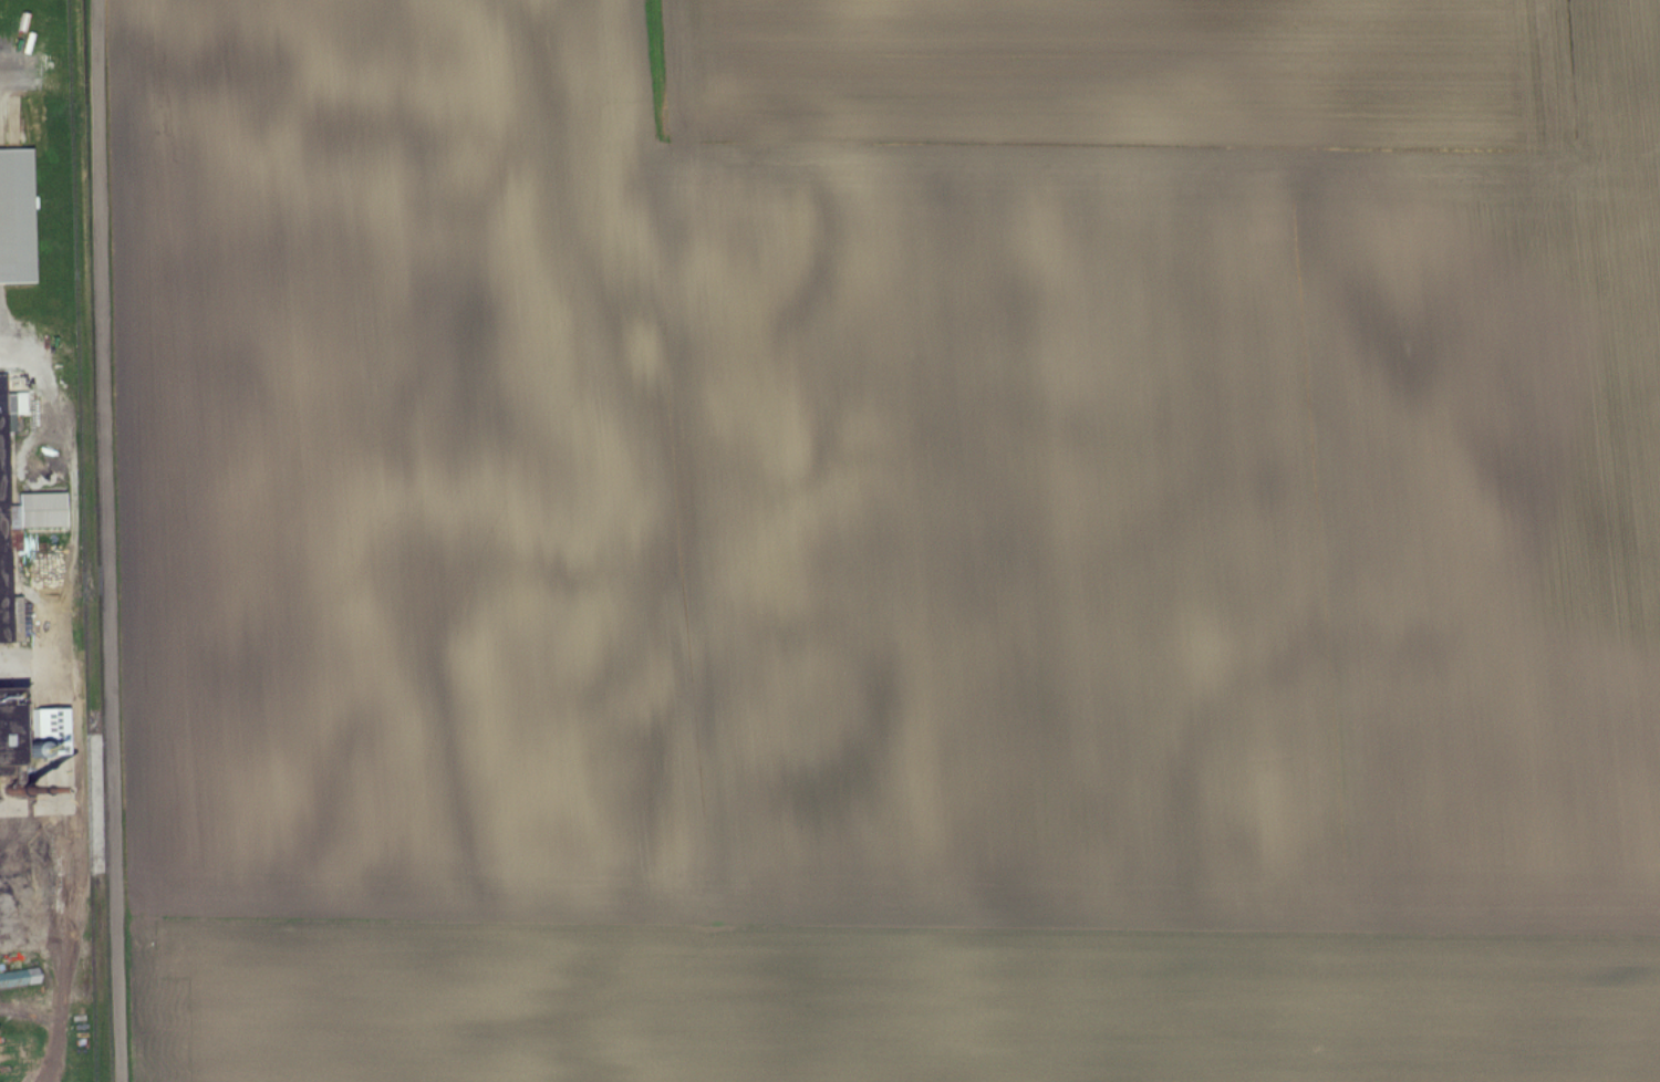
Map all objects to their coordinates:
road: (18, 89)
building: (15, 216)
building: (38, 509)
road: (104, 541)
building: (19, 978)
building: (19, 1055)

